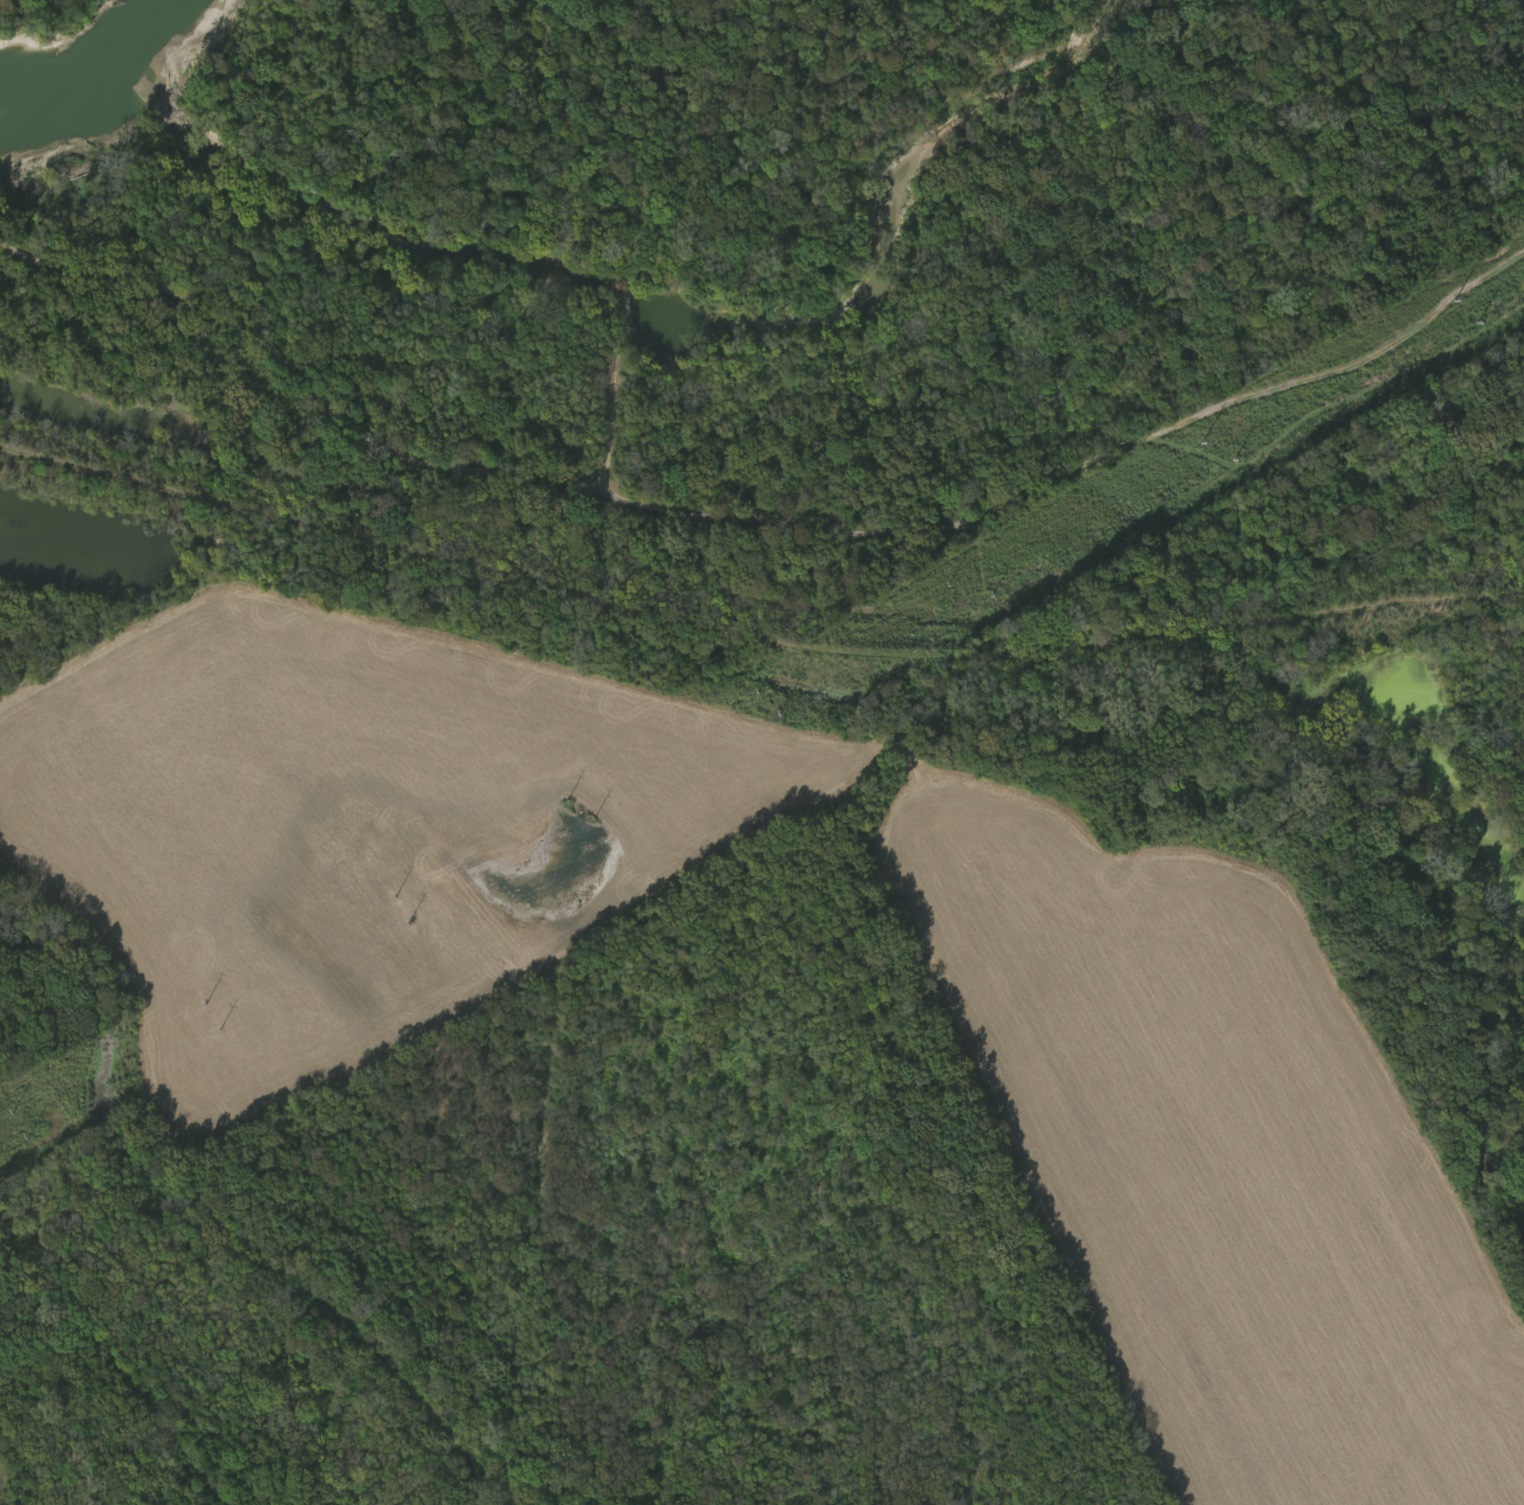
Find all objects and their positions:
river: (100, 79)

